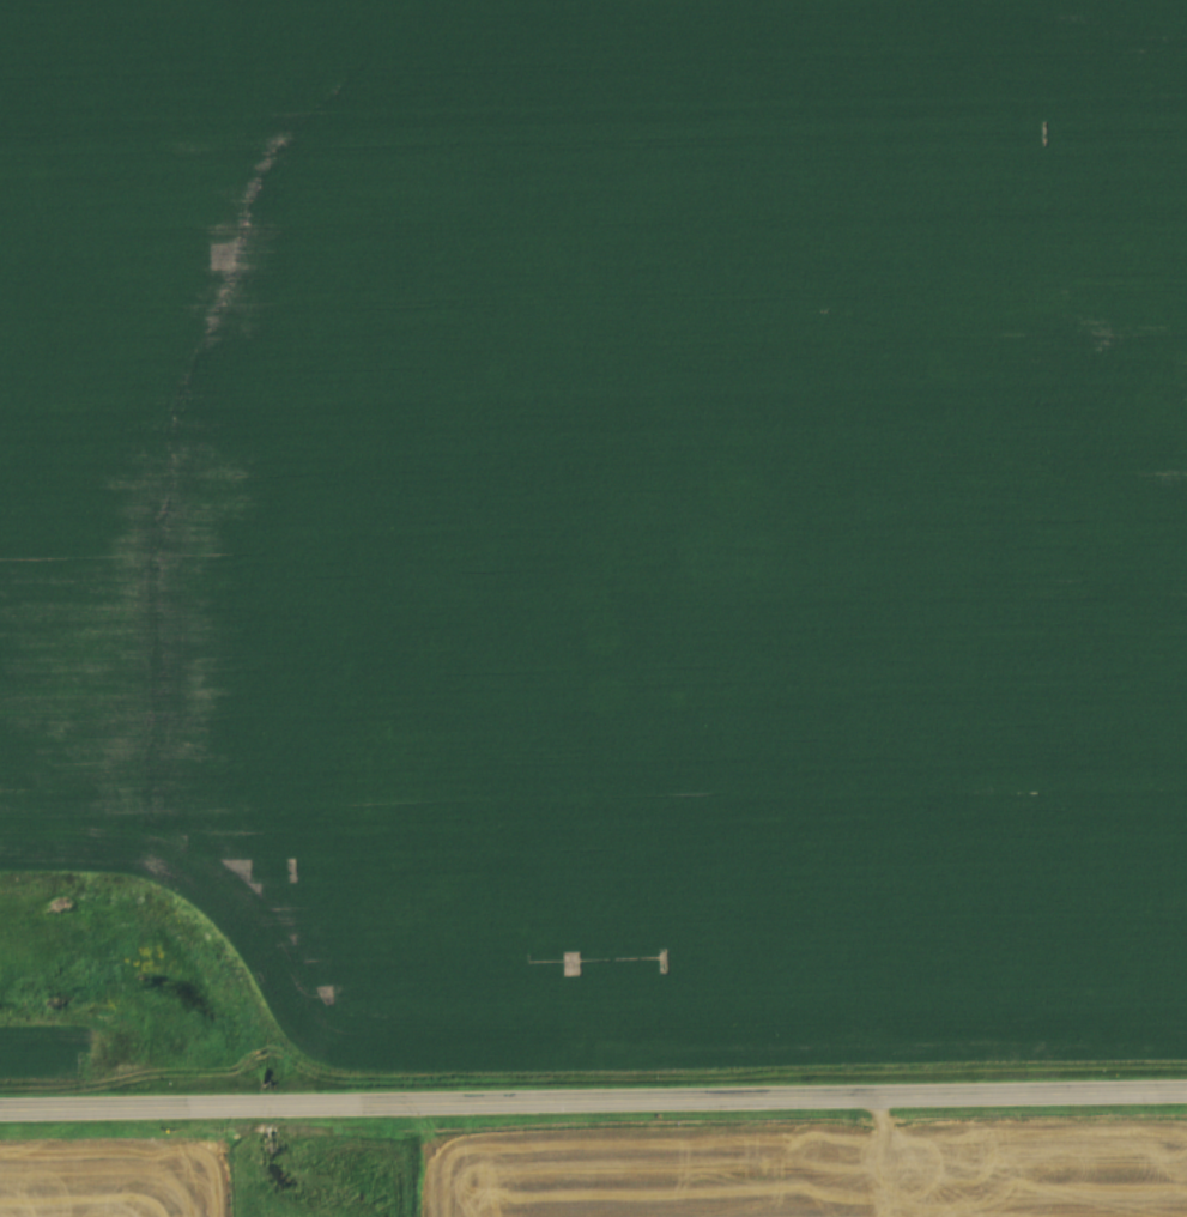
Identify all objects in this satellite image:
road: (593, 1110)

